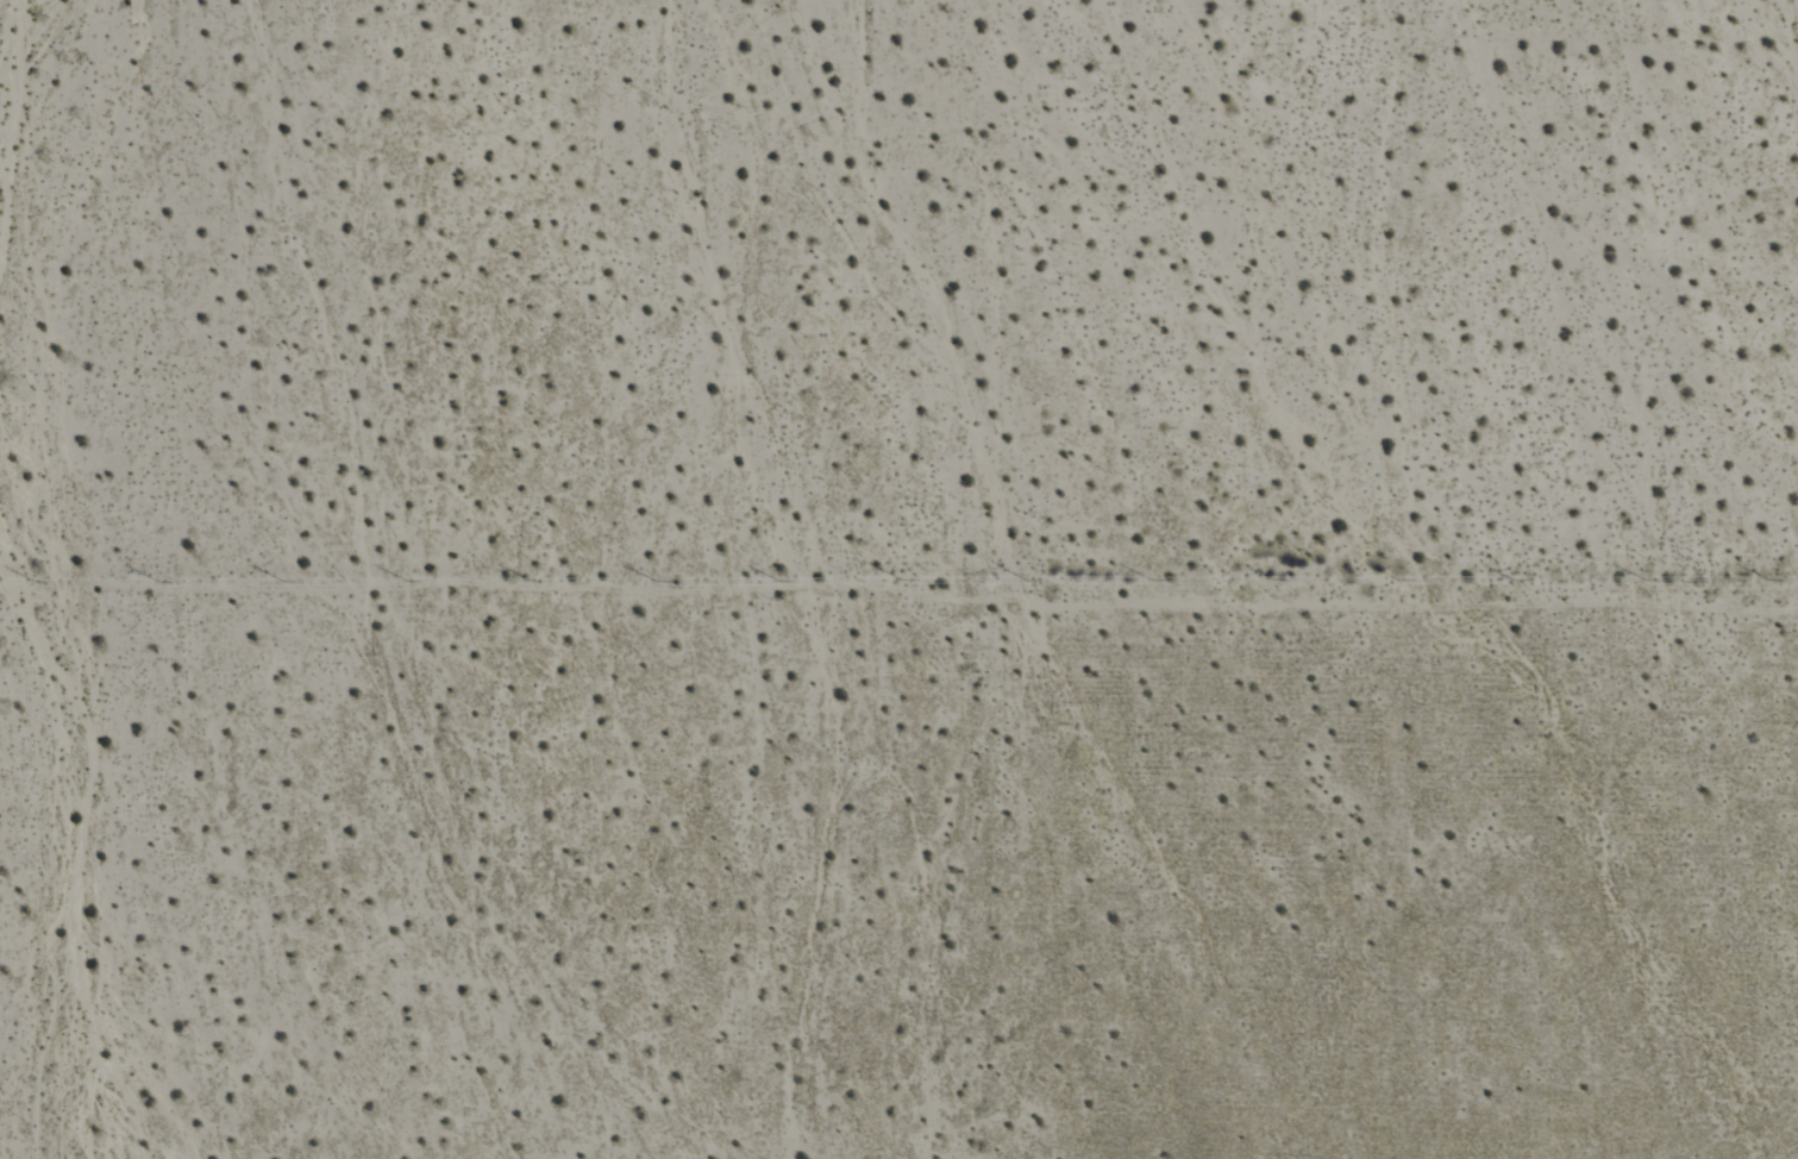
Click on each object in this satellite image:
road: (1296, 610)

